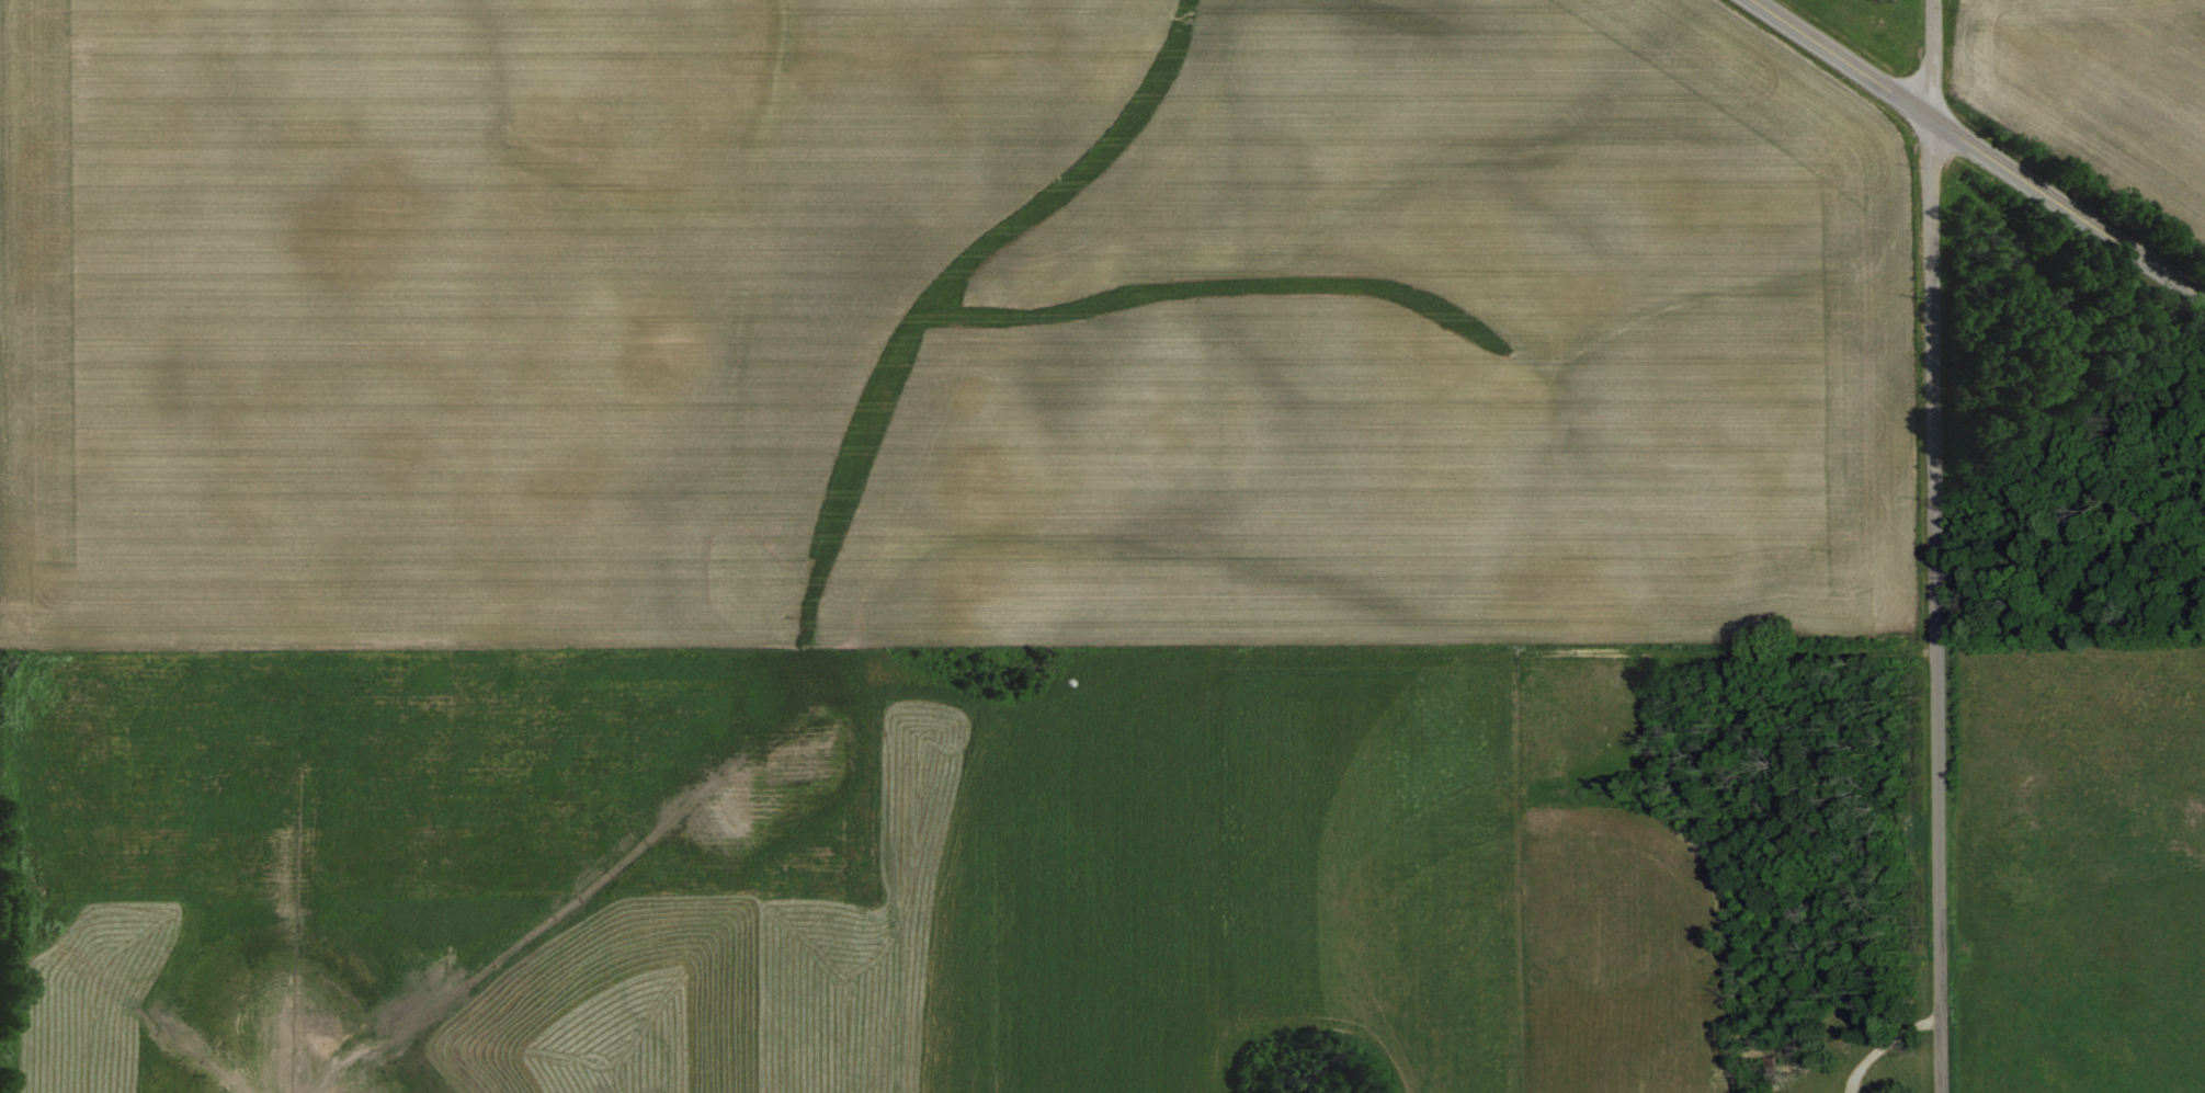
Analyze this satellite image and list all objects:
road: (1977, 150)
road: (1930, 546)
road: (1885, 1050)

